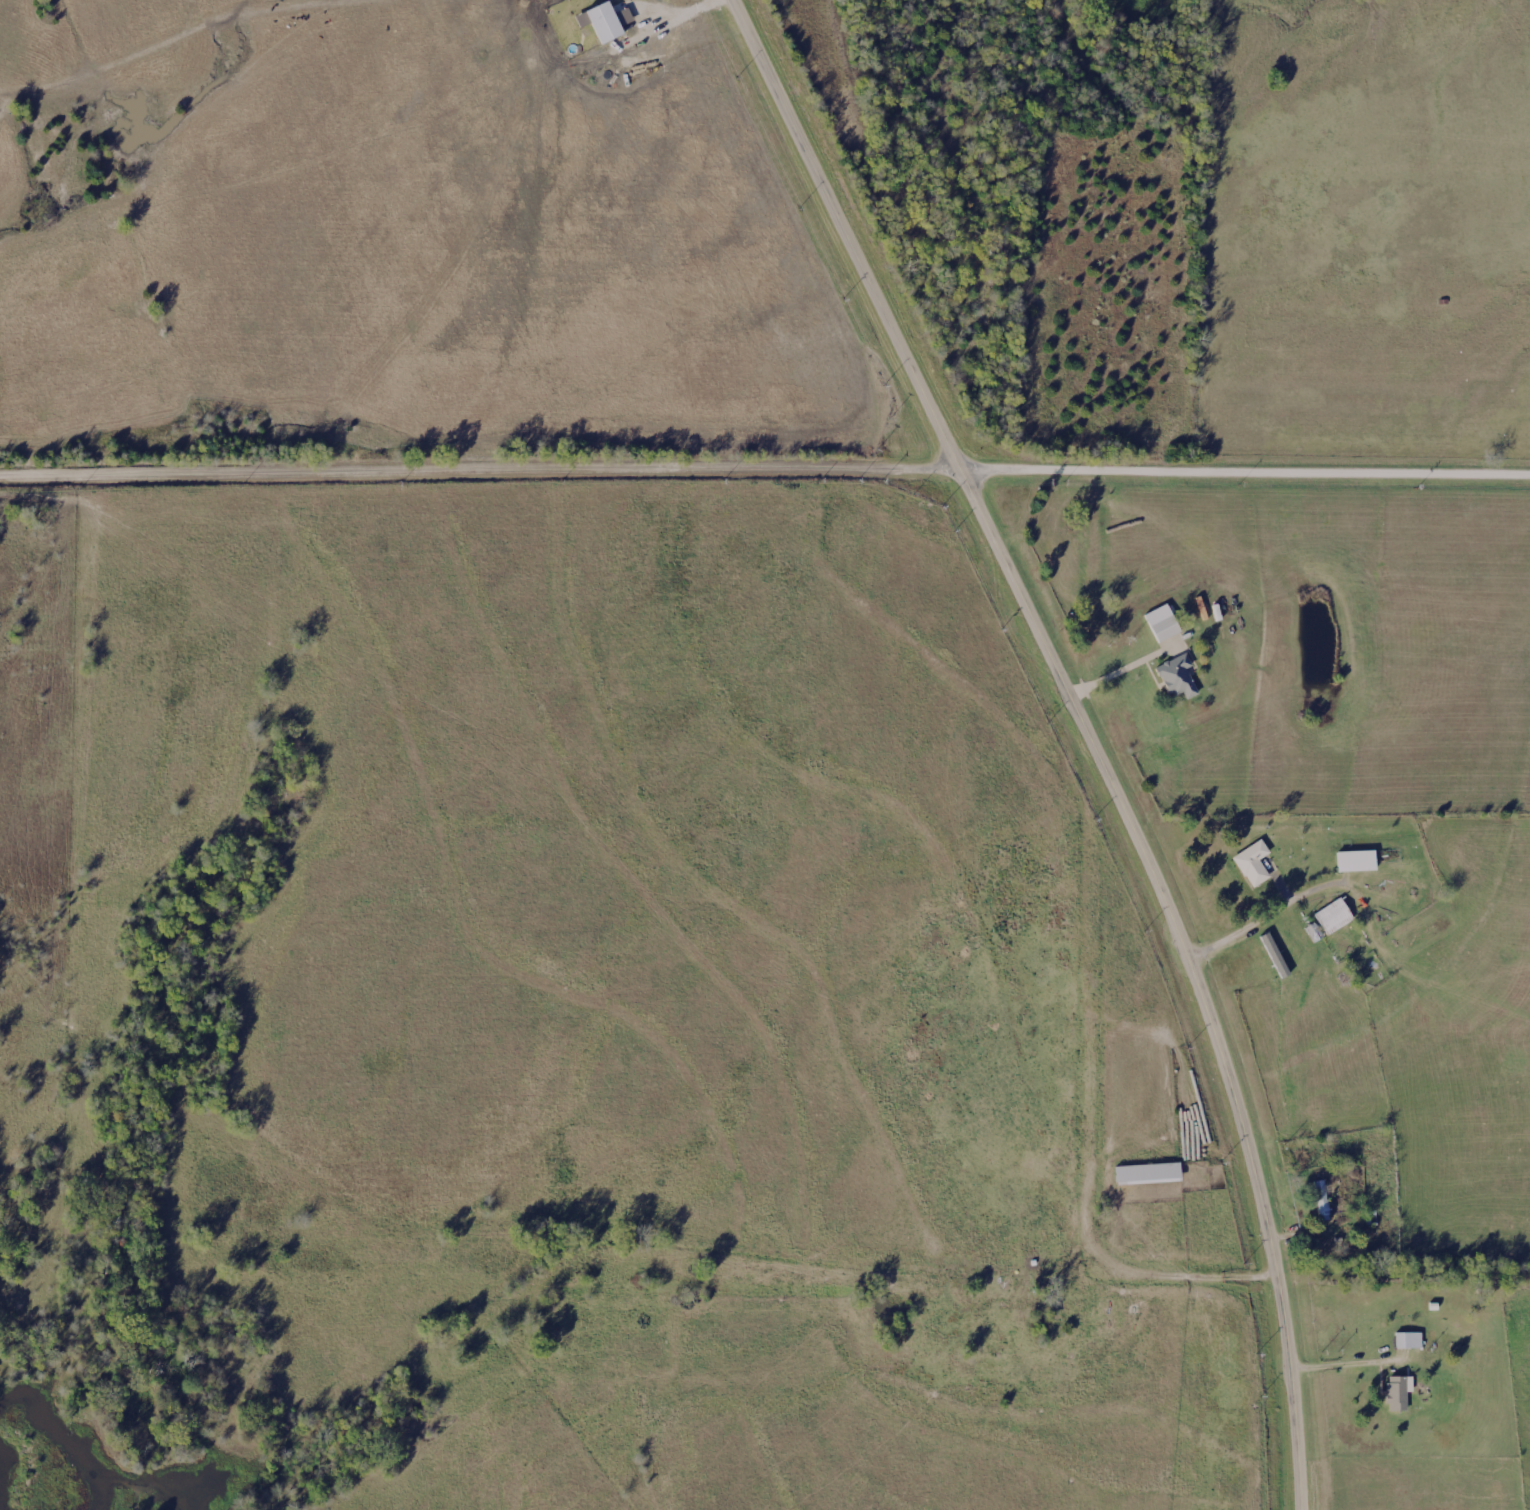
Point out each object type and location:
road: (679, 15)
building: (607, 21)
road: (484, 461)
road: (1248, 463)
building: (1158, 625)
road: (1112, 670)
building: (1173, 679)
road: (1091, 736)
building: (1352, 864)
building: (1249, 866)
road: (1261, 916)
building: (1330, 919)
building: (1276, 955)
building: (1143, 1176)
building: (1318, 1202)
road: (1191, 1250)
building: (1403, 1343)
building: (1392, 1396)

